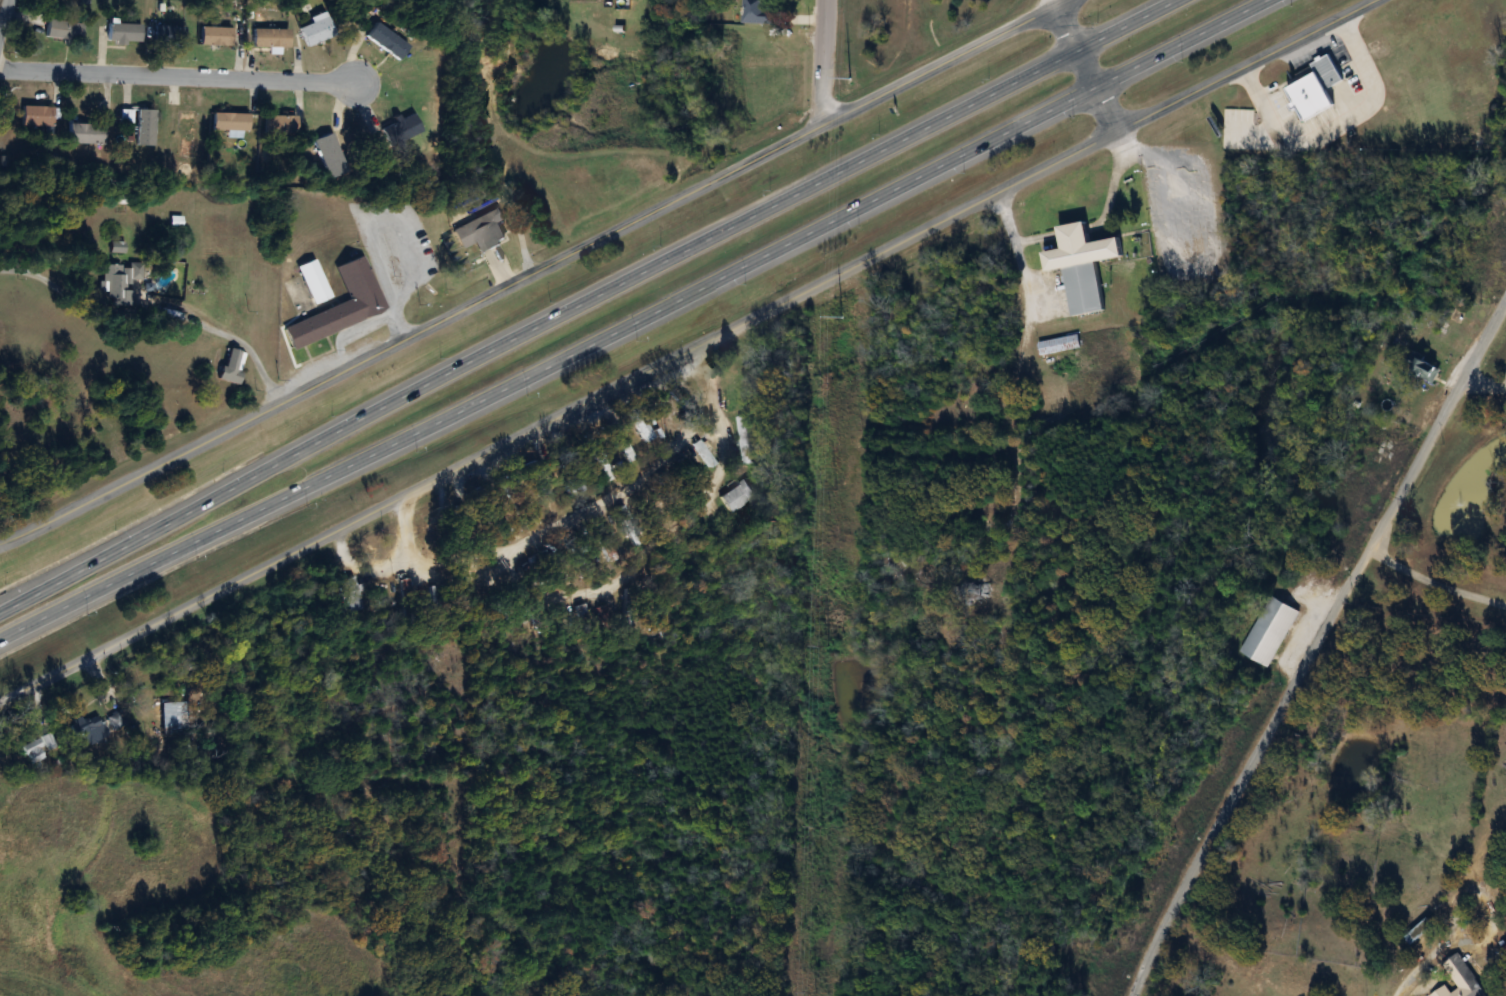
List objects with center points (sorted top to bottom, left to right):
building: (760, 12)
road: (5, 18)
road: (1126, 26)
building: (66, 30)
building: (316, 32)
building: (125, 33)
building: (217, 36)
building: (272, 38)
building: (389, 42)
road: (1182, 44)
road: (824, 62)
road: (1083, 66)
building: (1329, 73)
road: (178, 75)
building: (38, 116)
building: (232, 122)
building: (282, 125)
building: (146, 128)
building: (403, 131)
building: (87, 134)
building: (331, 156)
building: (483, 233)
building: (119, 244)
building: (1082, 269)
road: (535, 272)
road: (418, 278)
building: (120, 283)
building: (315, 284)
building: (343, 307)
road: (149, 315)
road: (535, 329)
building: (1061, 345)
road: (704, 347)
road: (335, 354)
road: (1019, 360)
building: (234, 367)
road: (549, 367)
building: (1427, 367)
road: (1482, 383)
road: (273, 400)
building: (668, 421)
building: (744, 439)
building: (625, 448)
building: (704, 453)
building: (576, 485)
building: (738, 495)
road: (573, 516)
building: (433, 539)
road: (640, 559)
road: (1432, 587)
building: (976, 591)
building: (350, 595)
building: (408, 599)
building: (436, 599)
building: (629, 605)
building: (585, 613)
building: (605, 613)
building: (1269, 631)
road: (1314, 640)
building: (169, 714)
building: (100, 727)
building: (49, 741)
building: (33, 751)
road: (1484, 903)
building: (1422, 931)
road: (1417, 966)
building: (1460, 980)

